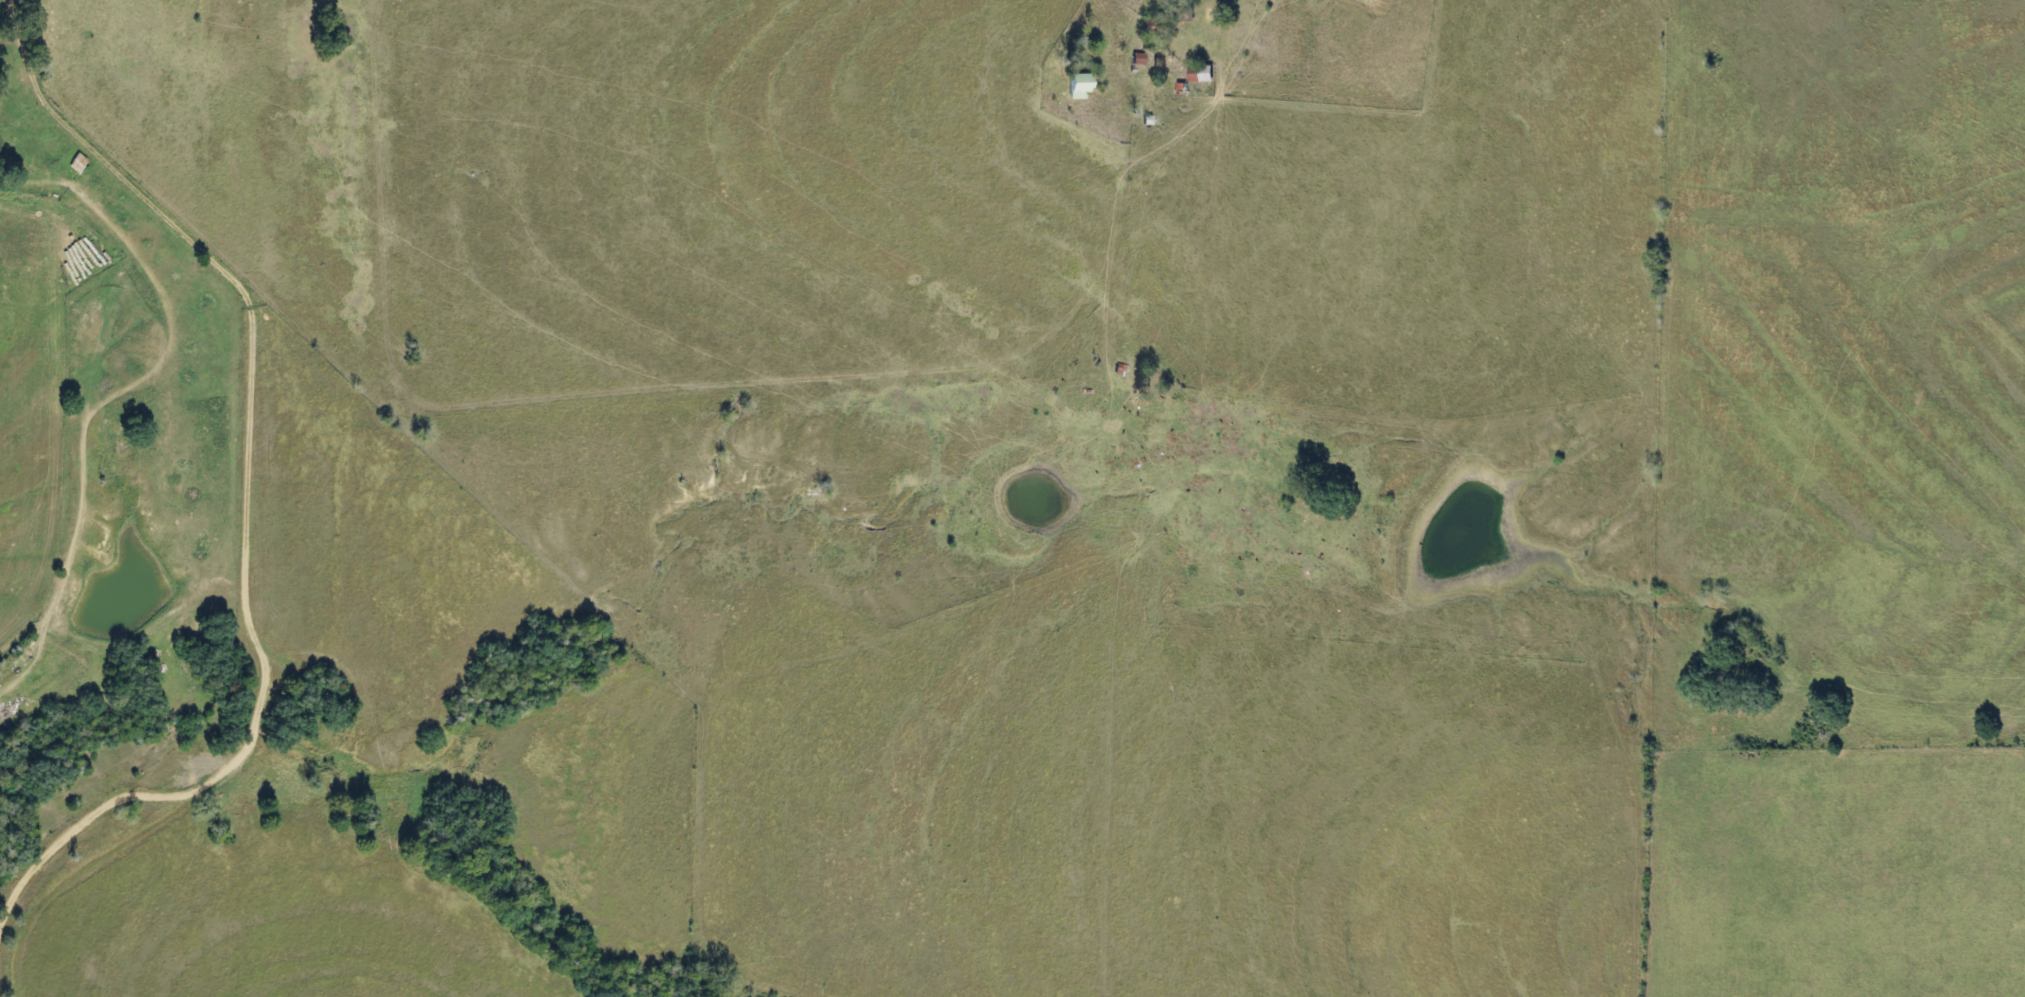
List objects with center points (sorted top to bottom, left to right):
building: (1205, 73)
building: (1081, 85)
building: (78, 163)

